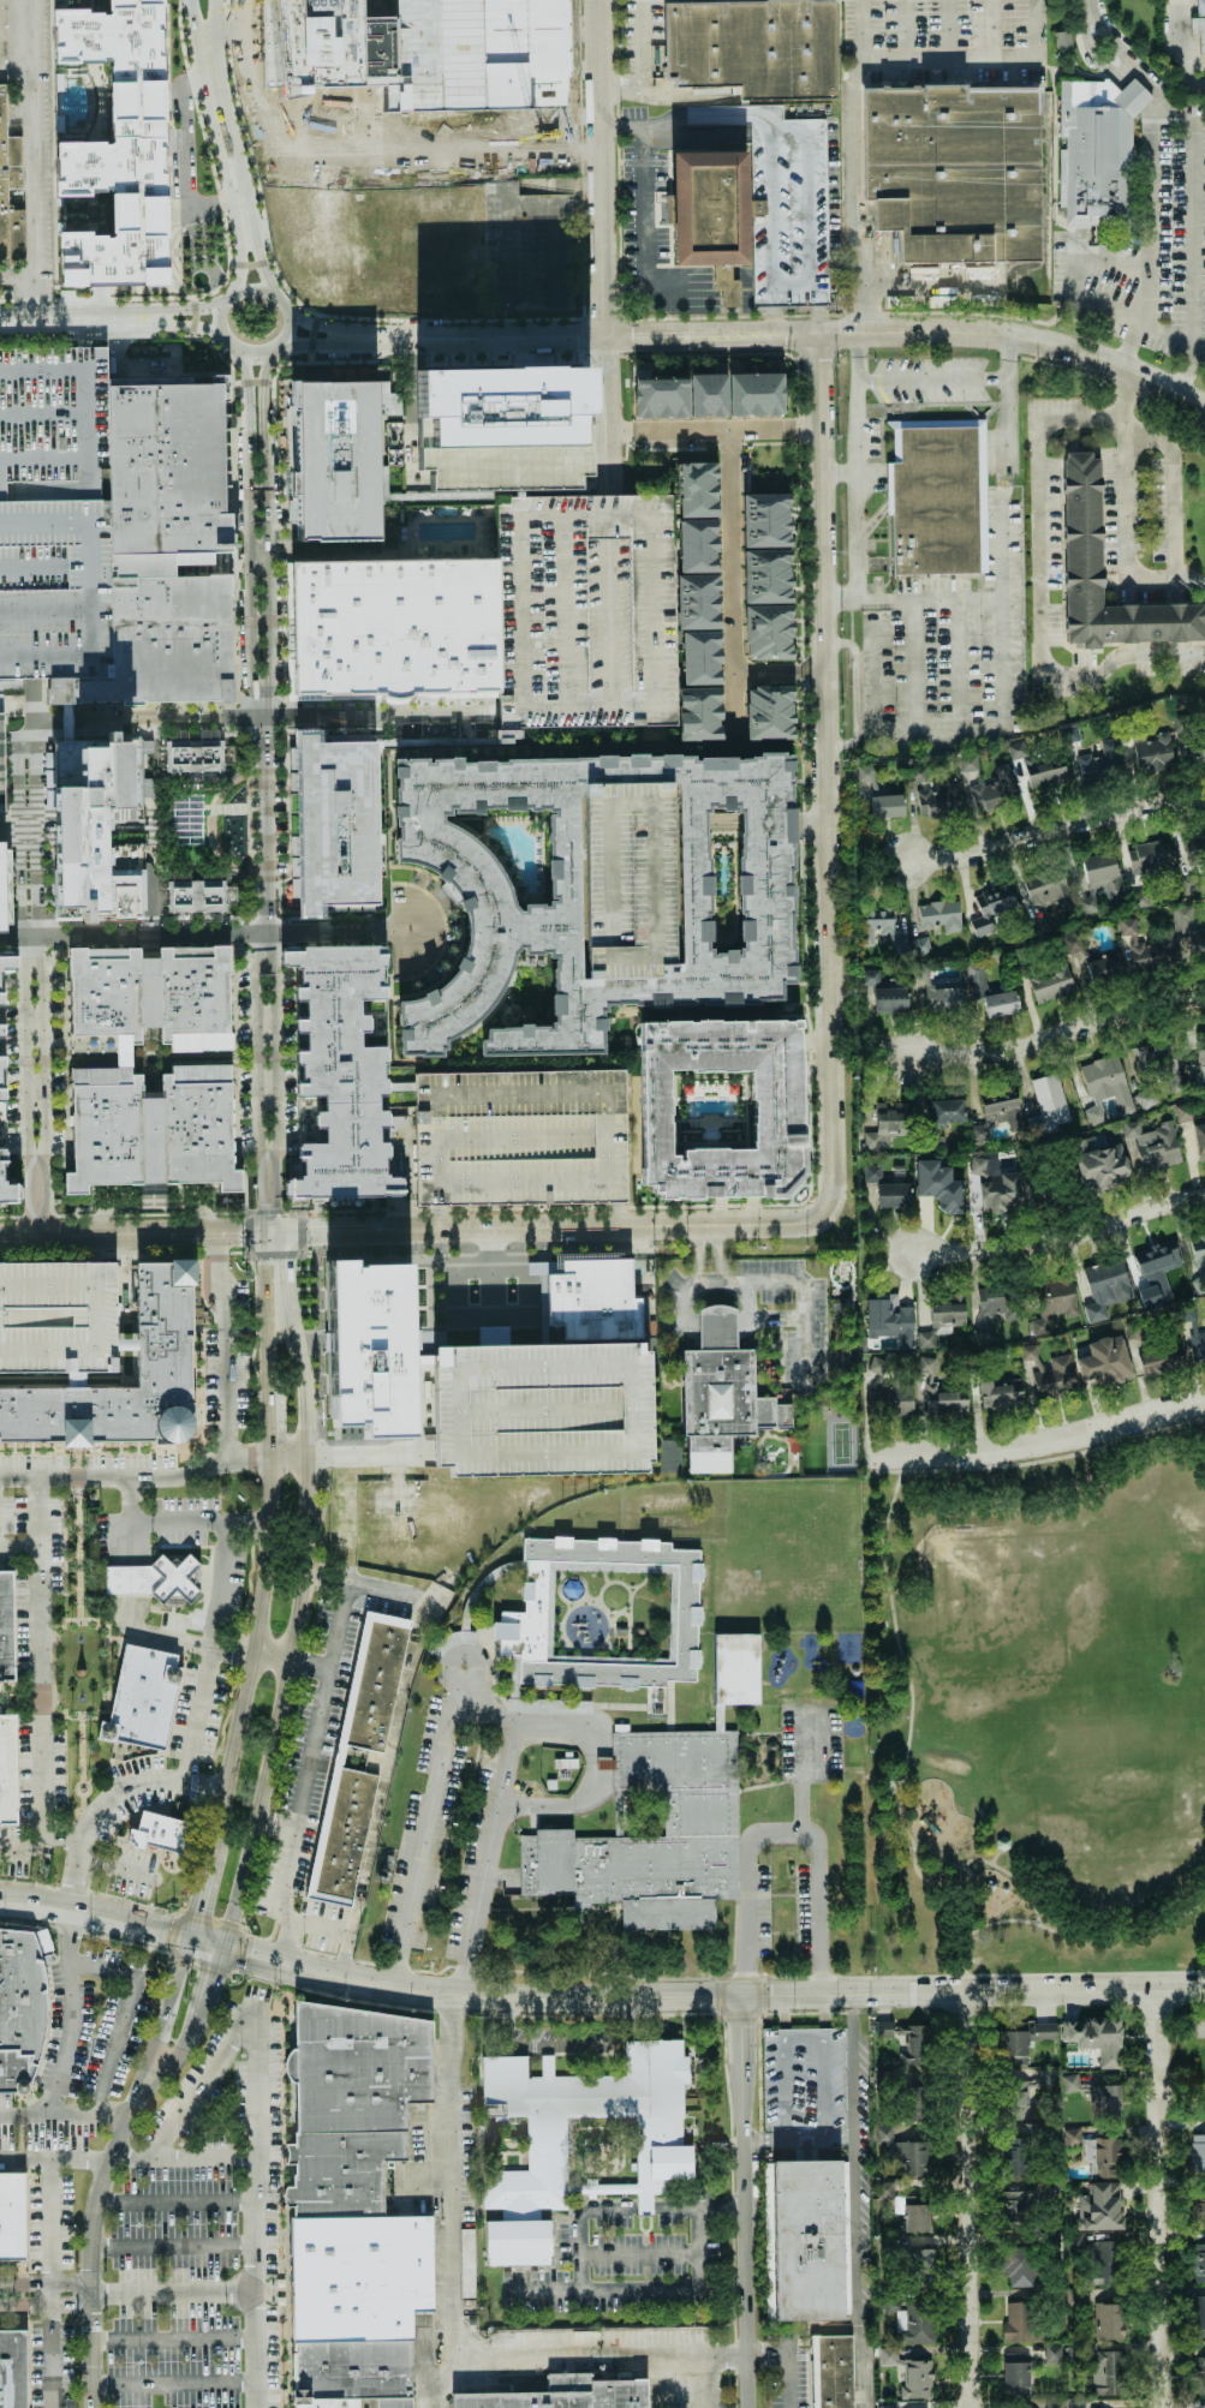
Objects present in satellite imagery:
building: (1199, 23)
road: (948, 29)
road: (207, 42)
parking lot: (955, 42)
parking lot: (642, 46)
road: (1032, 46)
road: (1179, 46)
building: (752, 47)
road: (1128, 58)
road: (925, 59)
road: (642, 68)
road: (22, 74)
road: (1204, 84)
road: (619, 91)
building: (95, 131)
road: (222, 141)
building: (2, 147)
road: (185, 155)
road: (43, 159)
building: (1108, 160)
road: (597, 169)
building: (14, 172)
building: (966, 180)
road: (853, 196)
road: (645, 204)
building: (714, 210)
road: (1152, 211)
building: (801, 214)
parking lot: (801, 214)
road: (1197, 241)
parking lot: (1162, 246)
road: (553, 249)
road: (508, 250)
road: (258, 263)
road: (243, 265)
road: (1075, 274)
road: (927, 285)
road: (416, 297)
road: (284, 309)
road: (126, 316)
road: (62, 317)
road: (311, 325)
road: (955, 331)
road: (1165, 335)
road: (648, 339)
road: (309, 340)
road: (469, 340)
road: (1131, 348)
road: (945, 382)
road: (247, 388)
road: (262, 389)
building: (708, 395)
building: (503, 406)
road: (610, 406)
road: (807, 428)
road: (712, 429)
road: (621, 430)
road: (1002, 437)
building: (329, 459)
road: (852, 466)
road: (836, 473)
building: (935, 497)
road: (1174, 498)
building: (50, 514)
parking lot: (50, 514)
road: (1126, 518)
building: (1086, 532)
building: (162, 545)
road: (1040, 557)
building: (766, 575)
road: (733, 579)
road: (909, 599)
building: (696, 600)
building: (583, 608)
parking lot: (583, 608)
building: (392, 628)
road: (955, 667)
road: (807, 671)
road: (912, 673)
road: (237, 687)
road: (853, 694)
road: (28, 699)
road: (386, 700)
road: (261, 703)
building: (13, 705)
road: (494, 707)
road: (376, 712)
building: (769, 712)
road: (247, 716)
road: (142, 717)
road: (980, 729)
road: (390, 741)
building: (1195, 749)
building: (1155, 754)
building: (192, 755)
building: (967, 763)
building: (1039, 764)
building: (1, 767)
road: (823, 775)
building: (867, 778)
building: (995, 788)
fountain: (239, 796)
building: (938, 800)
building: (887, 806)
road: (231, 807)
fountain: (232, 824)
building: (333, 824)
building: (96, 826)
park: (204, 826)
road: (211, 827)
road: (250, 829)
road: (1056, 829)
road: (260, 832)
fountain: (233, 836)
fountain: (238, 846)
building: (1147, 858)
building: (1102, 873)
parking garage: (627, 878)
building: (2, 879)
building: (592, 886)
building: (1049, 890)
building: (192, 895)
building: (991, 907)
building: (939, 915)
building: (875, 922)
road: (209, 933)
road: (20, 937)
building: (1169, 938)
road: (35, 942)
building: (920, 945)
building: (1104, 966)
building: (1050, 982)
building: (938, 991)
building: (989, 991)
building: (145, 992)
building: (885, 992)
road: (1060, 1036)
building: (80, 1042)
road: (255, 1057)
road: (141, 1059)
road: (34, 1060)
building: (1197, 1064)
building: (338, 1069)
building: (6, 1082)
building: (1104, 1086)
building: (1049, 1105)
building: (774, 1109)
building: (947, 1111)
building: (996, 1112)
building: (1183, 1112)
building: (888, 1123)
building: (151, 1128)
building: (521, 1137)
parking lot: (521, 1137)
building: (1199, 1139)
building: (1153, 1145)
building: (1100, 1167)
building: (872, 1173)
building: (995, 1184)
building: (939, 1185)
building: (894, 1194)
road: (31, 1199)
road: (154, 1201)
road: (616, 1215)
road: (437, 1218)
road: (413, 1230)
road: (1061, 1239)
road: (285, 1253)
building: (1199, 1253)
road: (214, 1254)
road: (716, 1256)
road: (698, 1257)
building: (1156, 1269)
road: (322, 1274)
building: (841, 1277)
road: (711, 1279)
road: (782, 1281)
building: (1105, 1287)
road: (412, 1293)
building: (592, 1299)
building: (1054, 1302)
road: (747, 1310)
building: (58, 1315)
parking lot: (58, 1315)
road: (776, 1316)
building: (942, 1316)
building: (890, 1319)
building: (163, 1325)
building: (984, 1332)
road: (256, 1342)
building: (1197, 1343)
road: (221, 1345)
building: (369, 1346)
road: (806, 1349)
building: (1028, 1351)
park: (843, 1357)
building: (1159, 1360)
building: (1105, 1361)
building: (1055, 1378)
building: (1000, 1391)
building: (721, 1393)
building: (939, 1393)
building: (542, 1409)
parking lot: (542, 1409)
road: (202, 1412)
park: (841, 1441)
park: (813, 1442)
road: (1038, 1442)
road: (348, 1454)
building: (772, 1454)
road: (76, 1458)
road: (1037, 1462)
road: (77, 1476)
road: (143, 1477)
road: (19, 1546)
road: (78, 1554)
building: (156, 1578)
road: (348, 1582)
road: (28, 1590)
road: (287, 1591)
road: (221, 1595)
building: (589, 1602)
road: (14, 1621)
building: (6, 1627)
road: (171, 1638)
park: (84, 1645)
road: (53, 1650)
road: (245, 1651)
road: (42, 1657)
road: (300, 1661)
road: (185, 1663)
road: (108, 1665)
road: (114, 1665)
building: (736, 1668)
road: (17, 1690)
road: (8, 1697)
road: (41, 1697)
building: (144, 1697)
road: (18, 1704)
park: (1036, 1711)
road: (457, 1713)
road: (65, 1714)
building: (357, 1745)
road: (80, 1746)
road: (905, 1749)
road: (30, 1761)
road: (124, 1761)
building: (7, 1770)
road: (304, 1770)
road: (807, 1771)
road: (16, 1773)
road: (150, 1779)
road: (74, 1786)
road: (82, 1801)
road: (72, 1812)
road: (269, 1823)
road: (91, 1826)
building: (654, 1828)
road: (783, 1829)
building: (160, 1832)
road: (71, 1840)
road: (484, 1853)
road: (997, 1856)
road: (115, 1869)
road: (966, 1911)
road: (333, 1930)
road: (1085, 1940)
traffic signals: (215, 1943)
road: (597, 1996)
road: (135, 2000)
building: (17, 2004)
building: (884, 2030)
building: (1044, 2031)
building: (1096, 2038)
building: (1014, 2046)
road: (61, 2063)
building: (1046, 2077)
building: (1069, 2083)
road: (203, 2084)
building: (804, 2086)
parking garage: (804, 2086)
building: (1022, 2095)
building: (1105, 2098)
building: (348, 2099)
building: (911, 2102)
road: (22, 2111)
building: (1014, 2147)
building: (670, 2149)
building: (906, 2152)
building: (1198, 2152)
road: (181, 2155)
building: (1106, 2155)
road: (52, 2161)
road: (106, 2162)
road: (1161, 2198)
road: (859, 2199)
road: (971, 2199)
road: (175, 2200)
road: (746, 2201)
road: (648, 2205)
road: (702, 2206)
building: (1099, 2206)
building: (1016, 2207)
road: (255, 2209)
building: (1200, 2209)
building: (915, 2212)
building: (12, 2216)
road: (53, 2221)
building: (810, 2239)
road: (173, 2243)
road: (642, 2254)
building: (467, 2261)
building: (1105, 2261)
building: (1199, 2263)
building: (1018, 2265)
building: (358, 2276)
road: (46, 2281)
road: (613, 2289)
road: (52, 2292)
road: (173, 2294)
road: (46, 2302)
building: (1199, 2314)
road: (451, 2319)
building: (1019, 2320)
building: (1108, 2320)
building: (915, 2322)
road: (815, 2328)
road: (173, 2340)
building: (1052, 2353)
road: (49, 2355)
building: (1014, 2356)
road: (787, 2360)
building: (12, 2370)
building: (352, 2370)
building: (835, 2371)
building: (1108, 2372)
building: (909, 2373)
building: (1015, 2374)
building: (1199, 2374)
road: (173, 2383)
building: (560, 2395)
building: (322, 2404)

